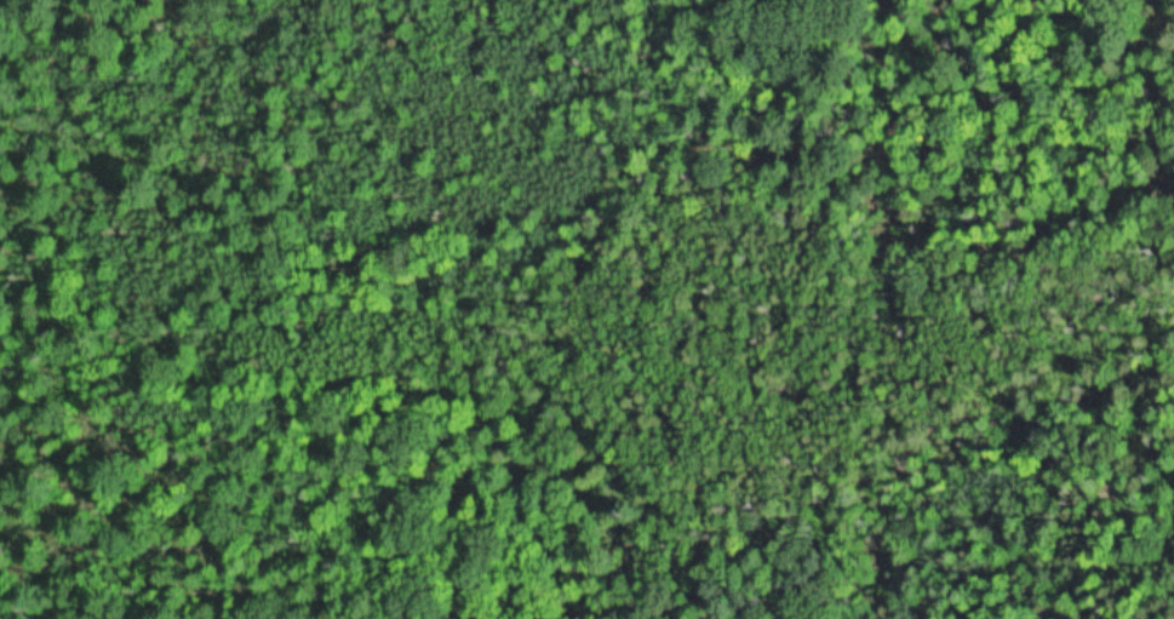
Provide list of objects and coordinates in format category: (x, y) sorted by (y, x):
road: (153, 131)

